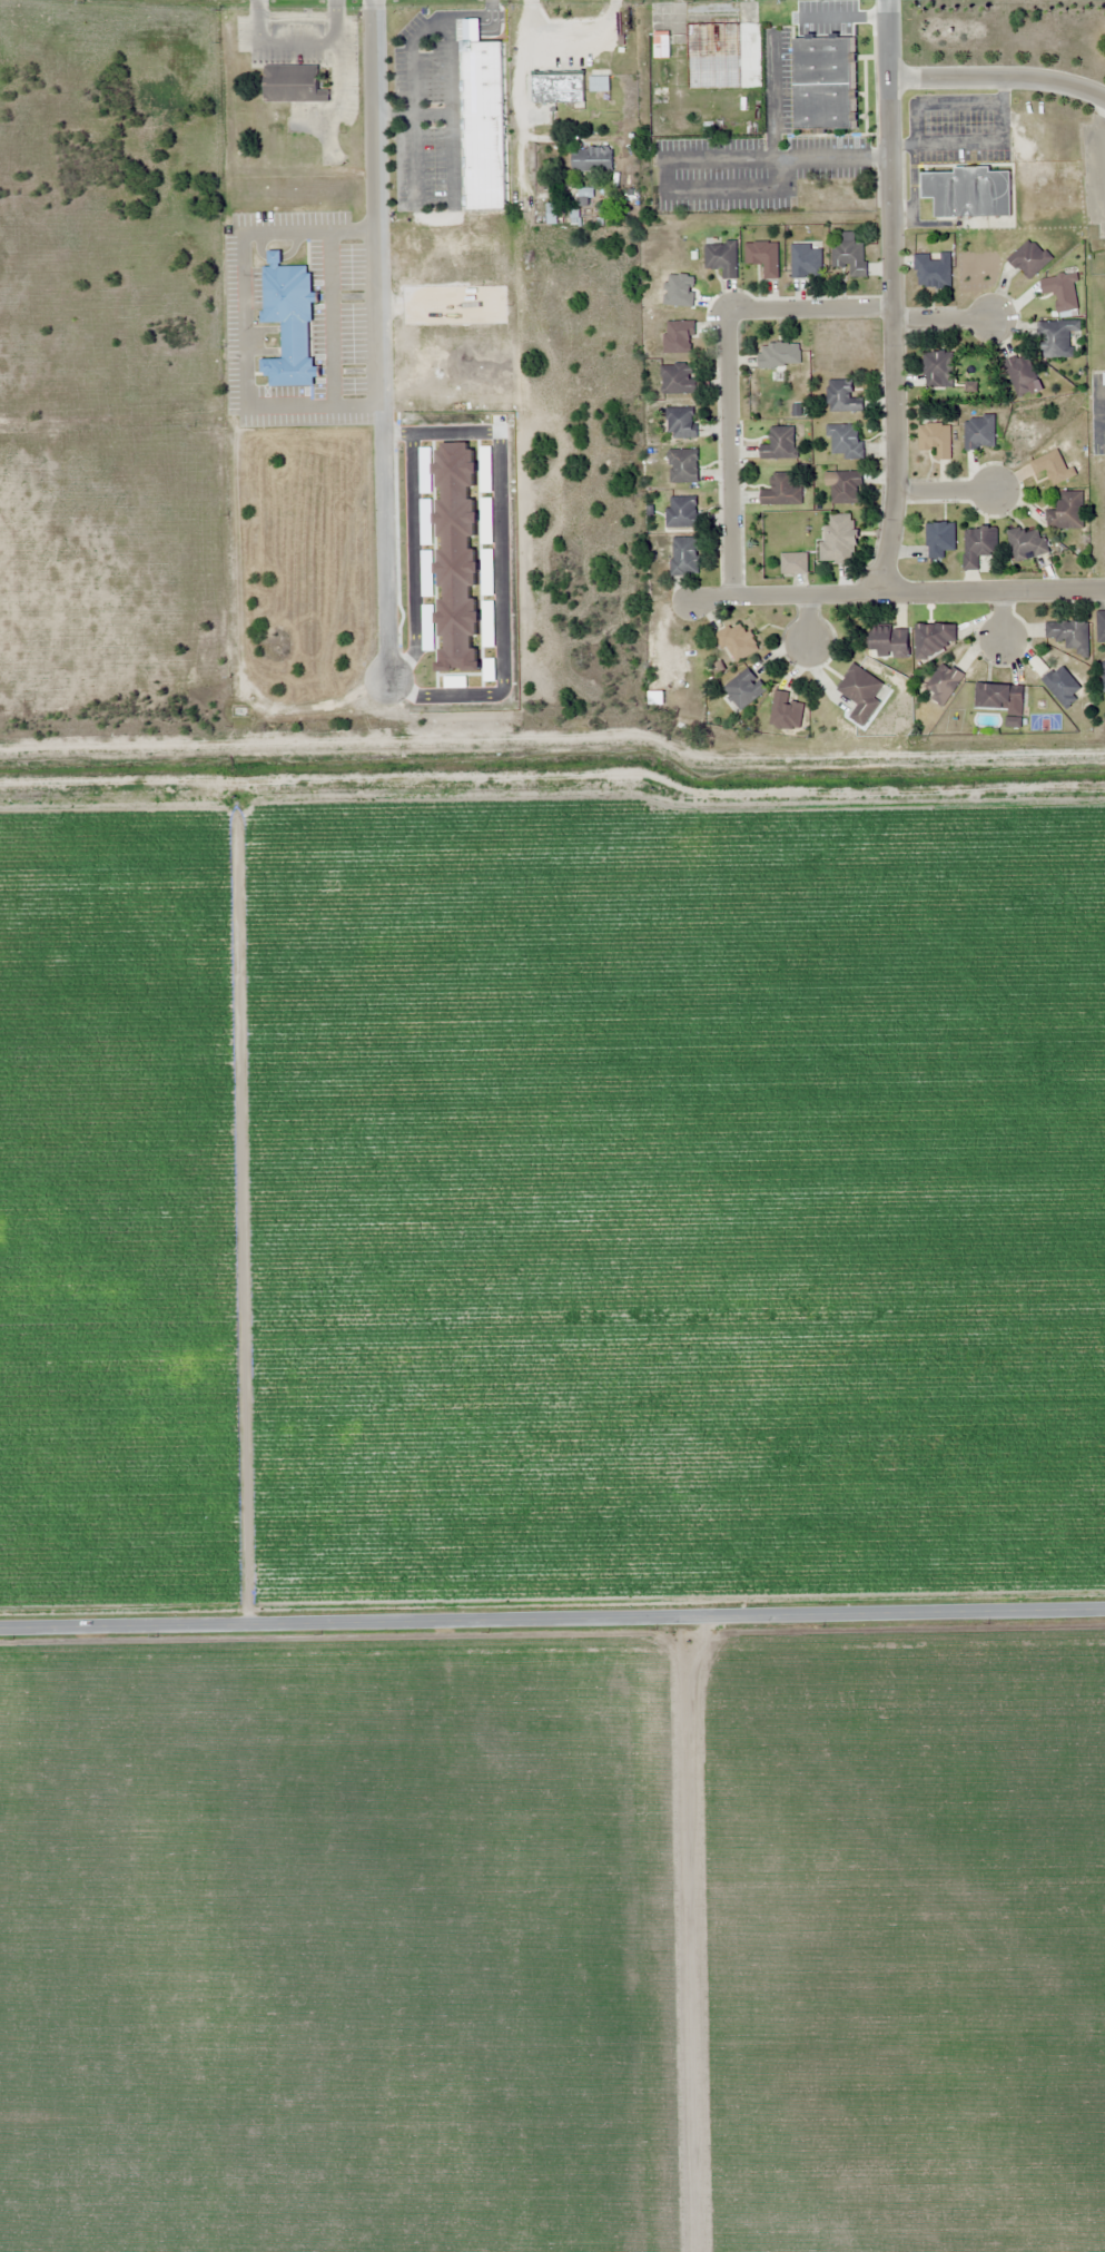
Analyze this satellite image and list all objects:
building: (661, 45)
building: (712, 53)
road: (1000, 77)
building: (292, 82)
building: (599, 83)
building: (825, 83)
building: (558, 89)
building: (483, 124)
building: (592, 159)
building: (968, 191)
building: (849, 254)
building: (763, 257)
building: (722, 258)
building: (1029, 258)
building: (806, 260)
building: (933, 269)
building: (1062, 291)
road: (897, 296)
road: (812, 309)
building: (288, 319)
road: (946, 322)
building: (679, 336)
building: (1060, 338)
building: (779, 355)
building: (938, 370)
building: (1022, 374)
building: (679, 380)
building: (842, 397)
building: (681, 423)
building: (979, 433)
building: (936, 439)
building: (846, 440)
building: (780, 444)
road: (729, 452)
building: (683, 465)
building: (847, 488)
building: (781, 492)
road: (948, 492)
building: (682, 512)
building: (1067, 512)
building: (839, 539)
building: (940, 539)
building: (1027, 543)
building: (978, 545)
building: (684, 557)
building: (793, 563)
road: (895, 591)
road: (1005, 616)
road: (808, 617)
building: (1101, 626)
building: (1069, 635)
building: (934, 639)
building: (737, 642)
building: (890, 642)
building: (1038, 666)
building: (1102, 670)
building: (1063, 686)
building: (744, 689)
building: (862, 694)
building: (999, 697)
building: (787, 712)
road: (552, 1629)

